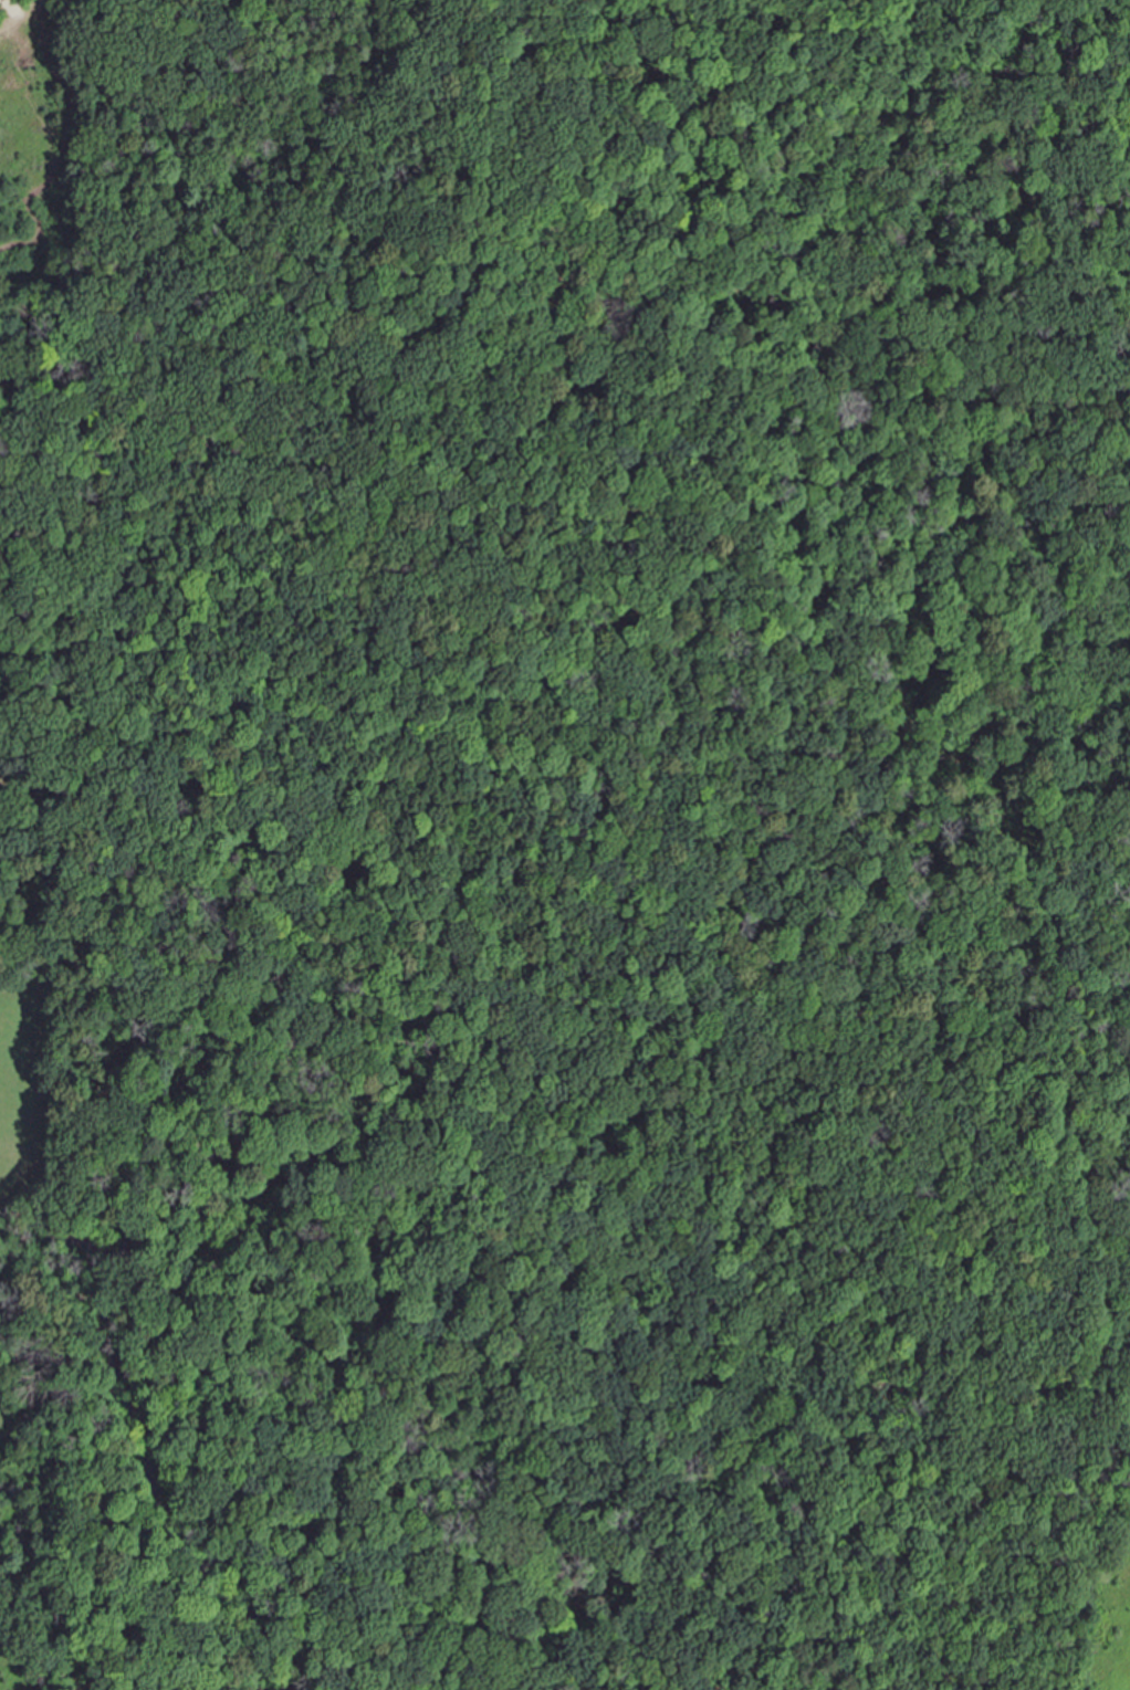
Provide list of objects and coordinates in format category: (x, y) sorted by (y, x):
road: (107, 55)
road: (1075, 610)
river: (622, 1033)

